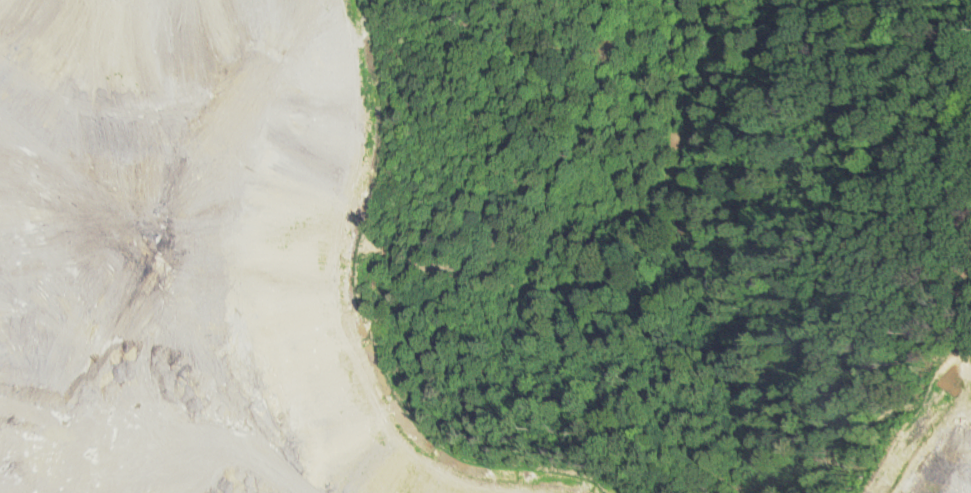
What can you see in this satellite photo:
quarry: (217, 266)
building: (161, 433)
quarry: (908, 440)

